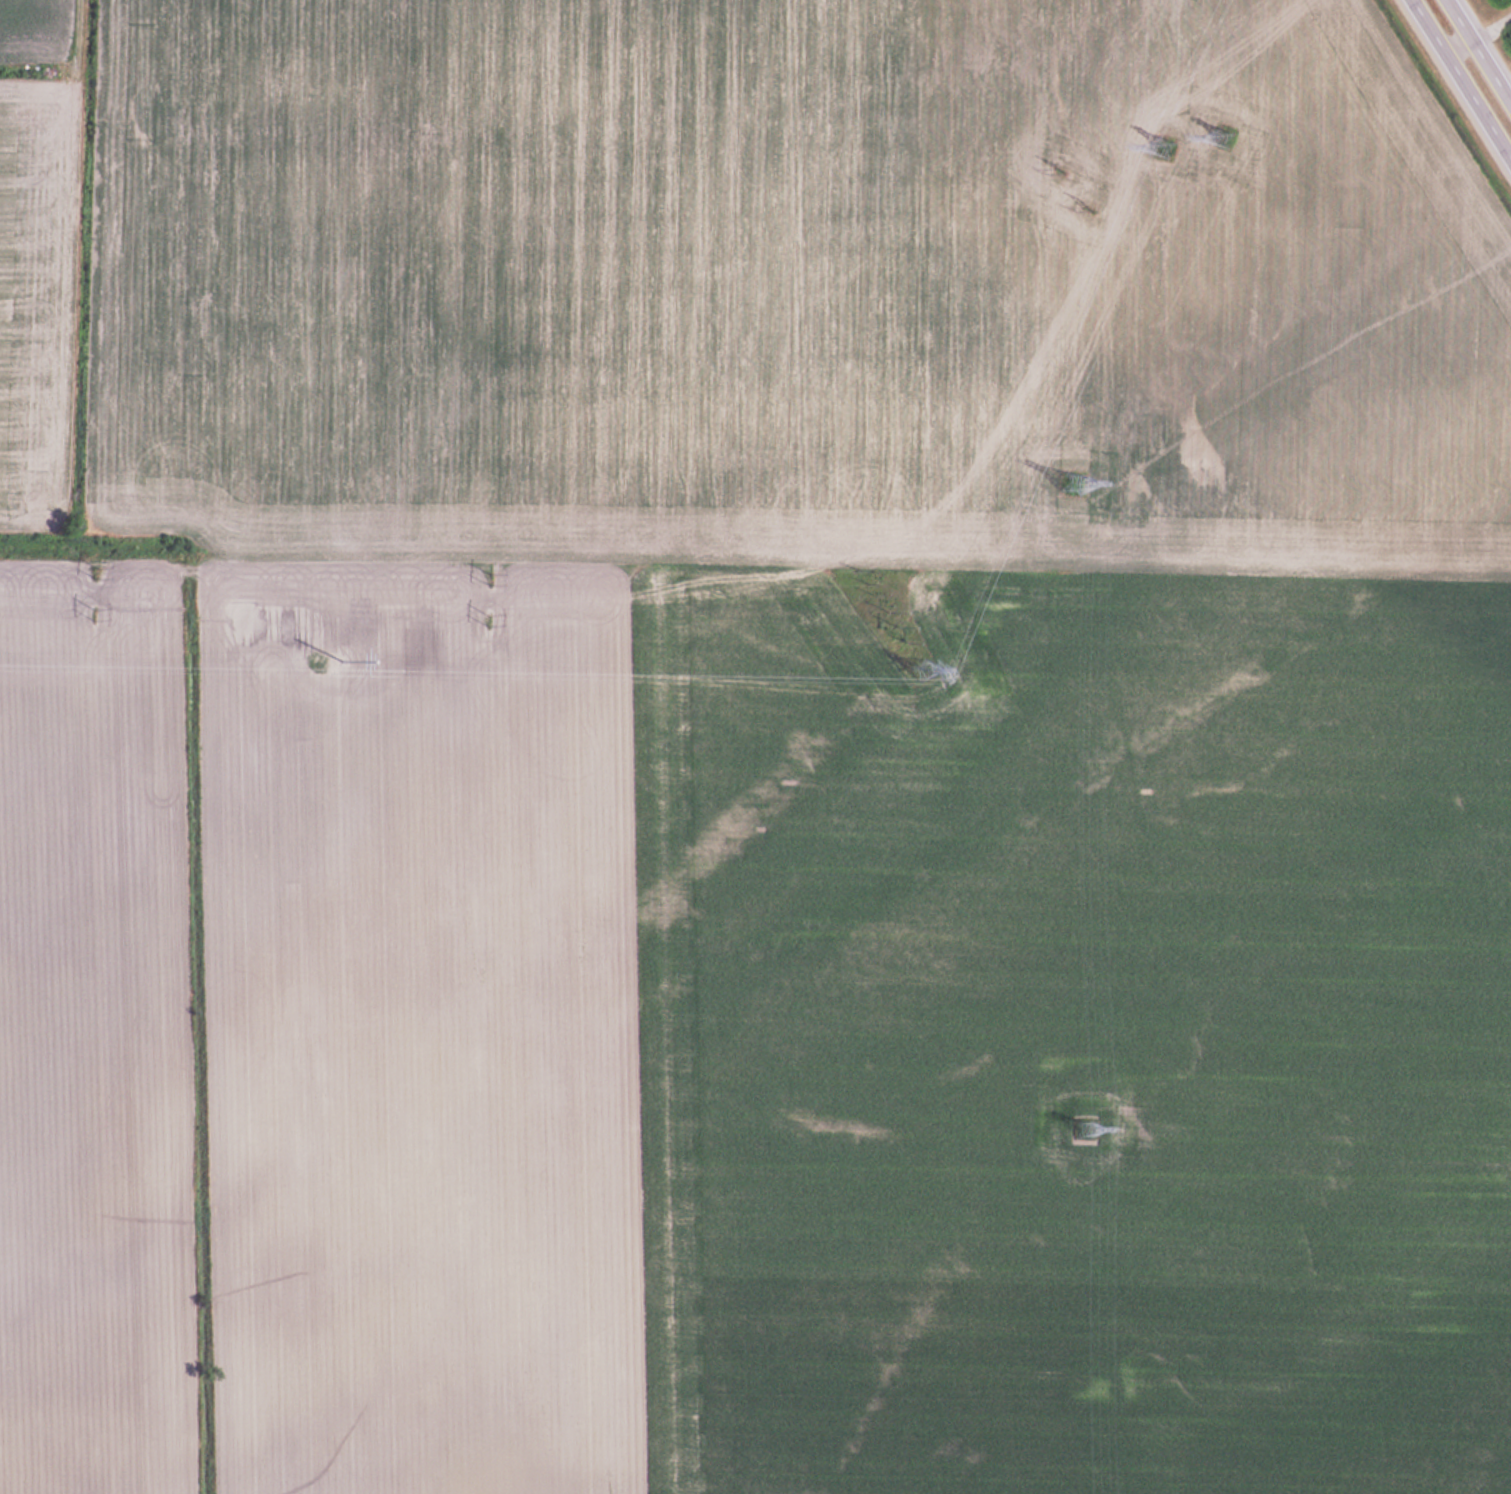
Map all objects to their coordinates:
road: (1483, 44)
road: (1461, 78)
power tower: (1225, 138)
power tower: (1166, 145)
power tower: (1060, 171)
power tower: (1087, 210)
building: (1069, 483)
power tower: (1072, 485)
power tower: (99, 575)
power tower: (490, 577)
power tower: (865, 577)
power tower: (96, 616)
power tower: (489, 620)
power tower: (893, 624)
power tower: (314, 662)
power tower: (922, 675)
power tower: (1087, 1130)

